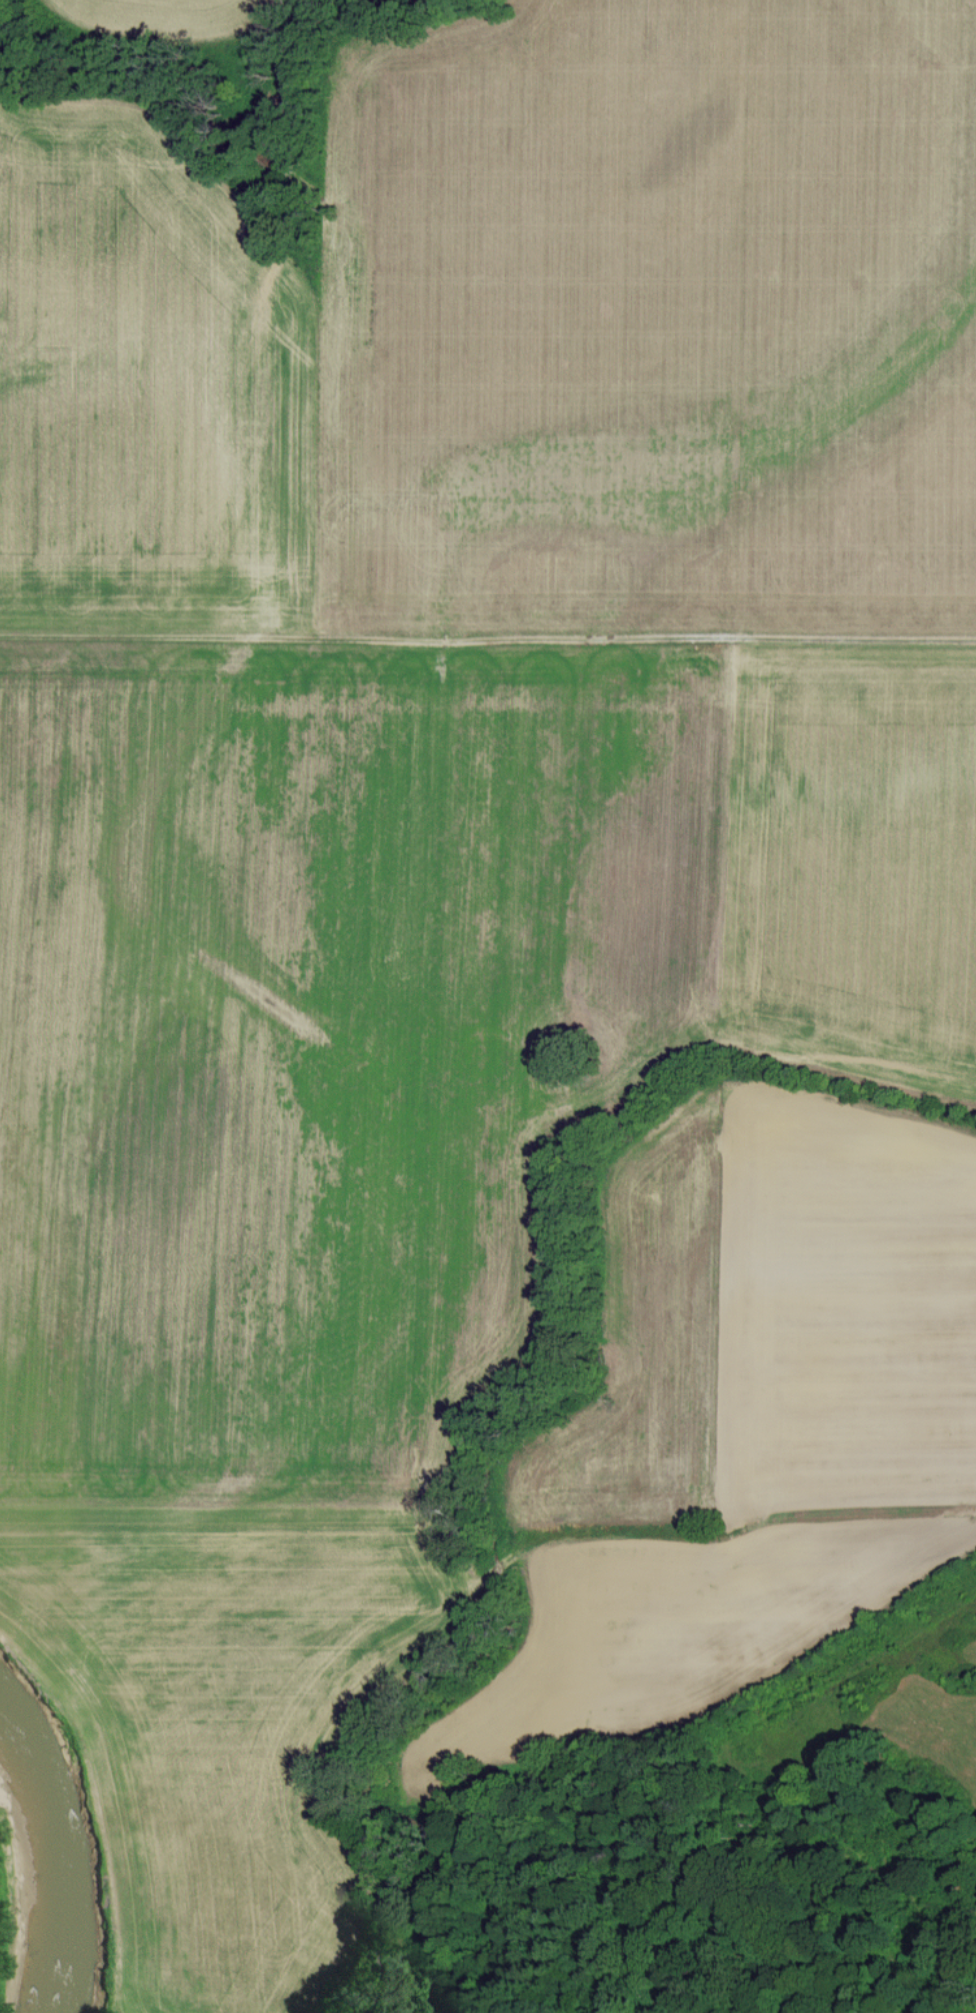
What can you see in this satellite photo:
road: (488, 635)
river: (36, 1866)

